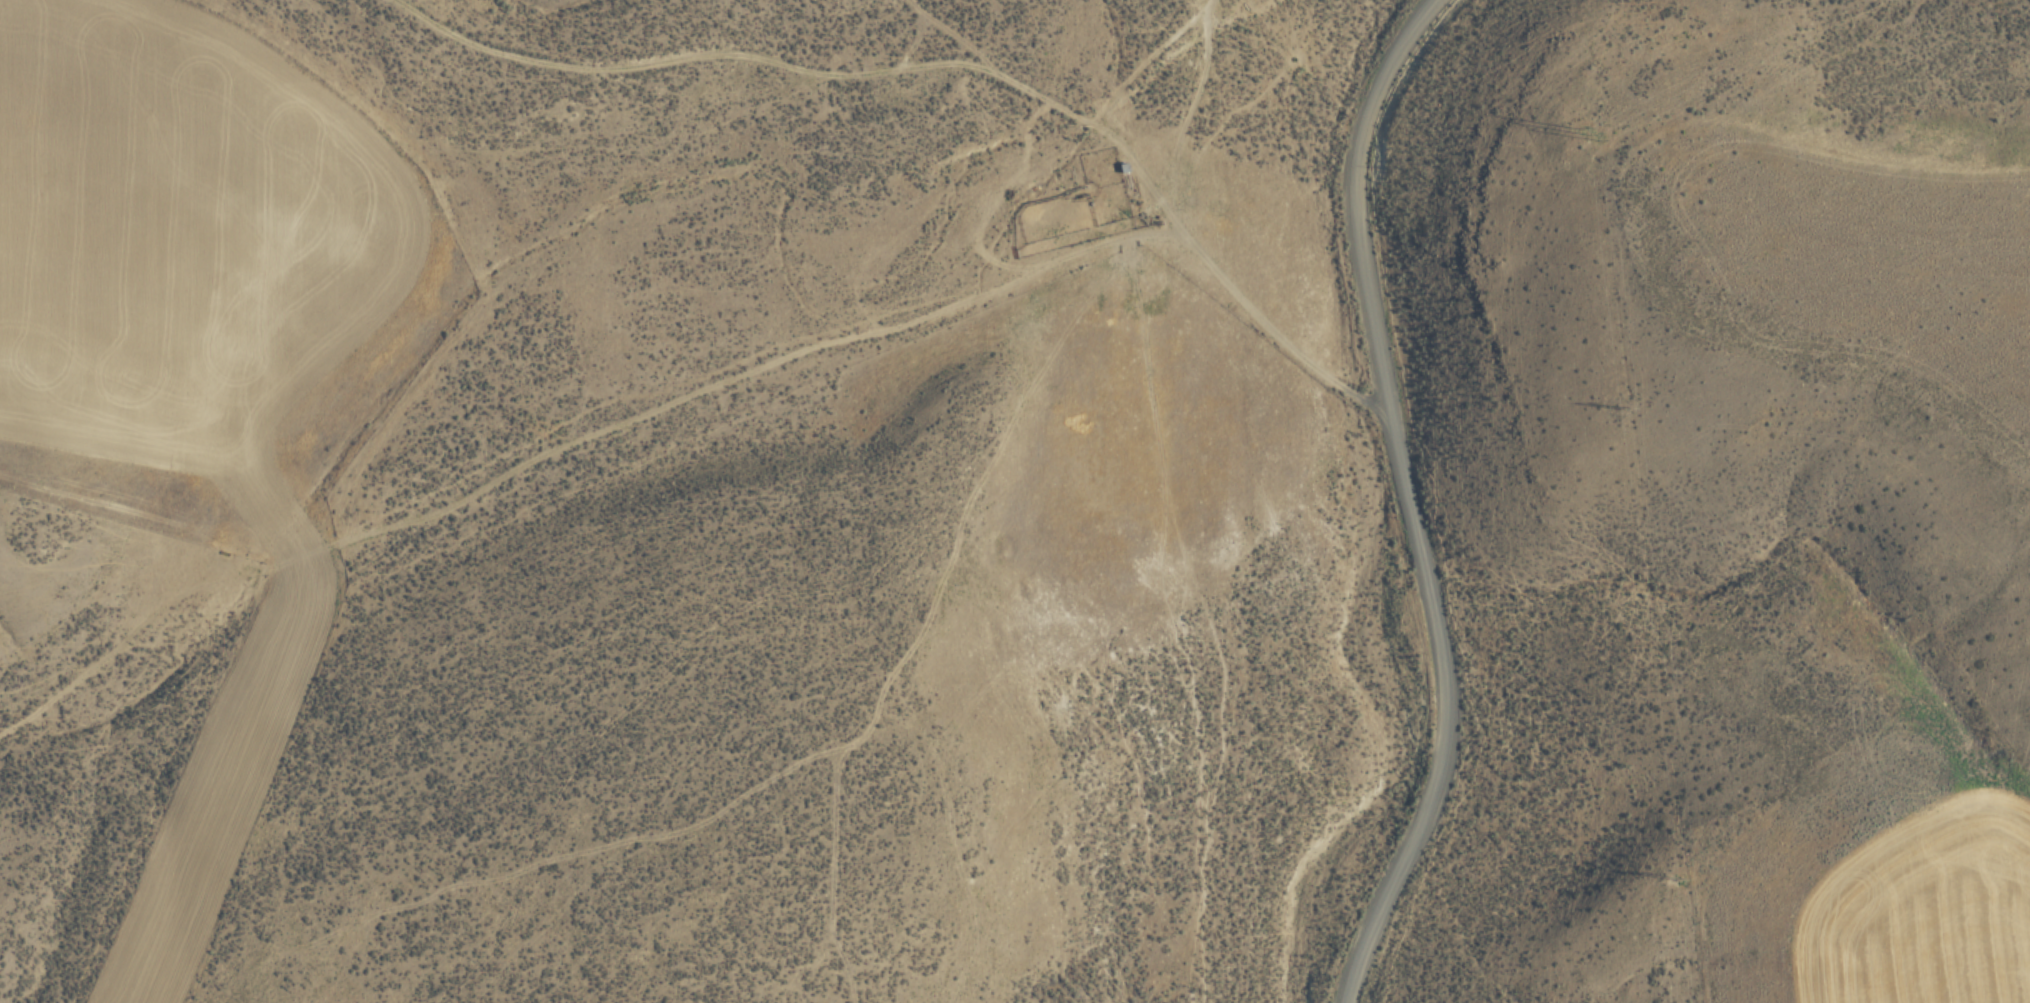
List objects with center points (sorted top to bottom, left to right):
road: (1414, 501)

